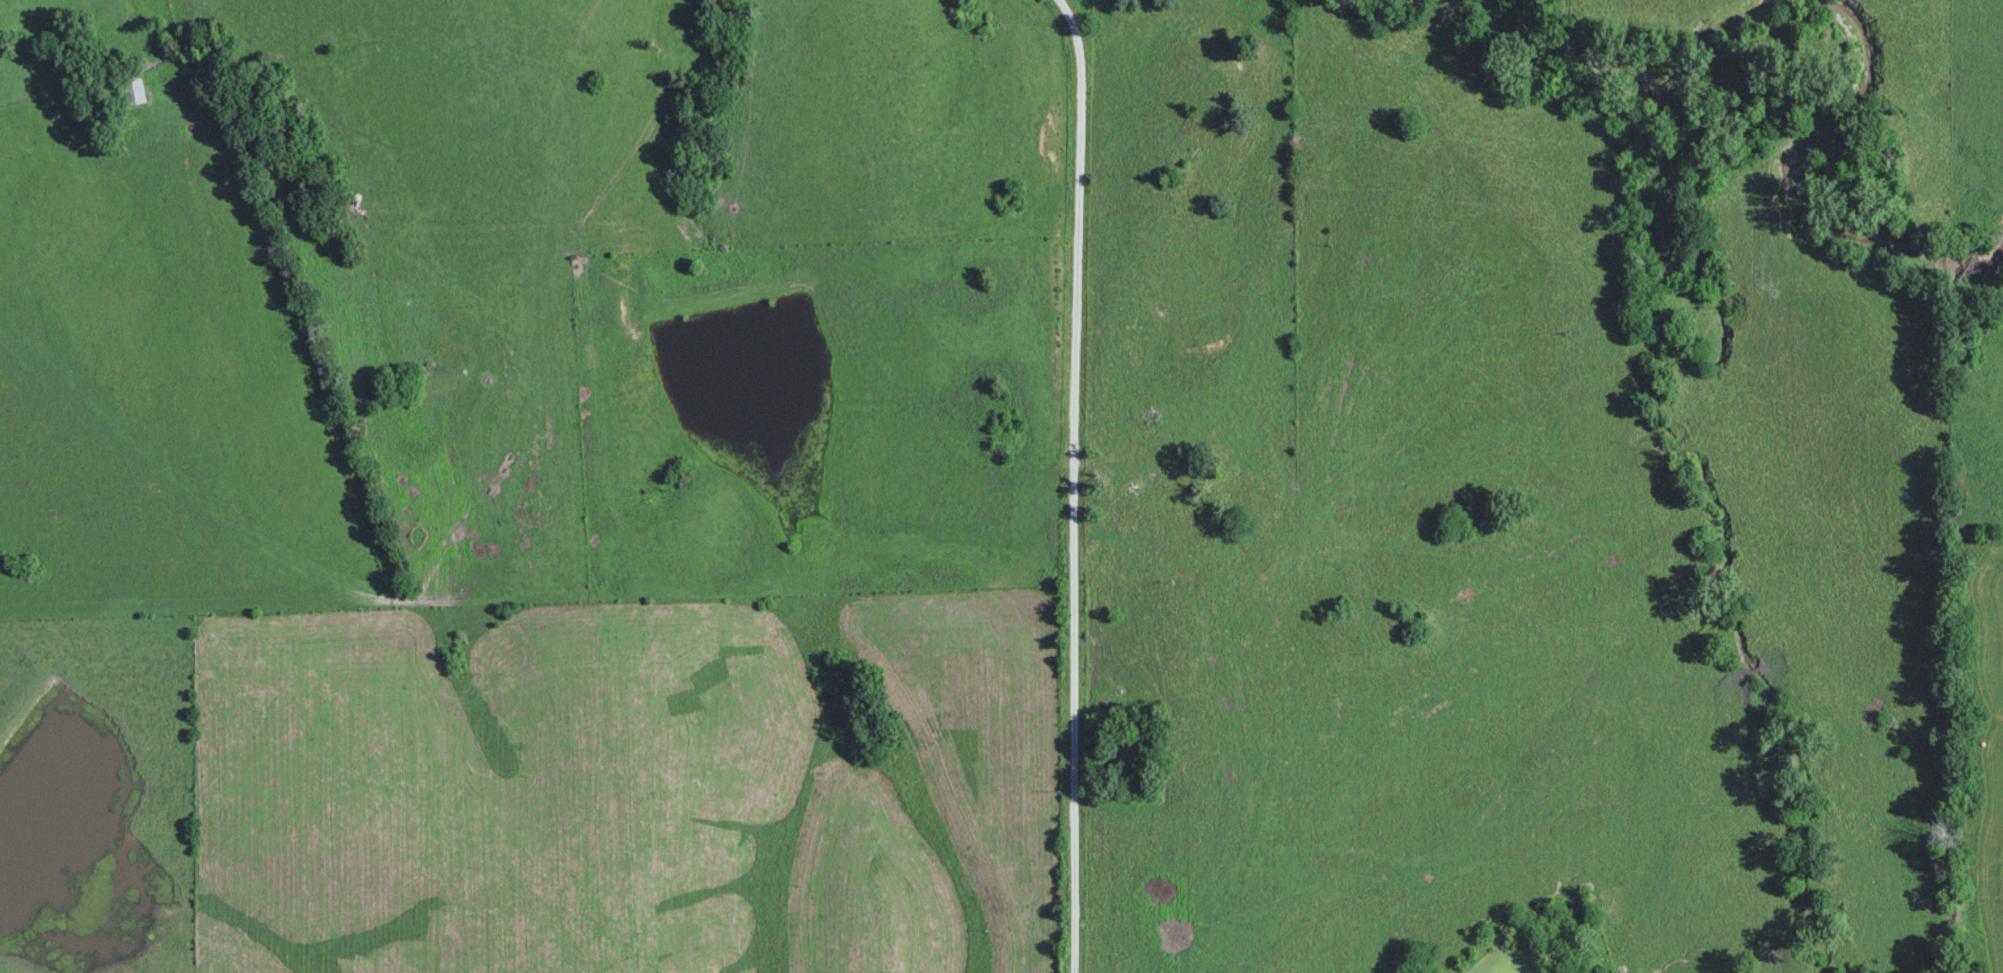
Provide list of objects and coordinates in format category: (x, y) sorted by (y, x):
building: (134, 88)
road: (1072, 483)
building: (1134, 489)
building: (1174, 542)

